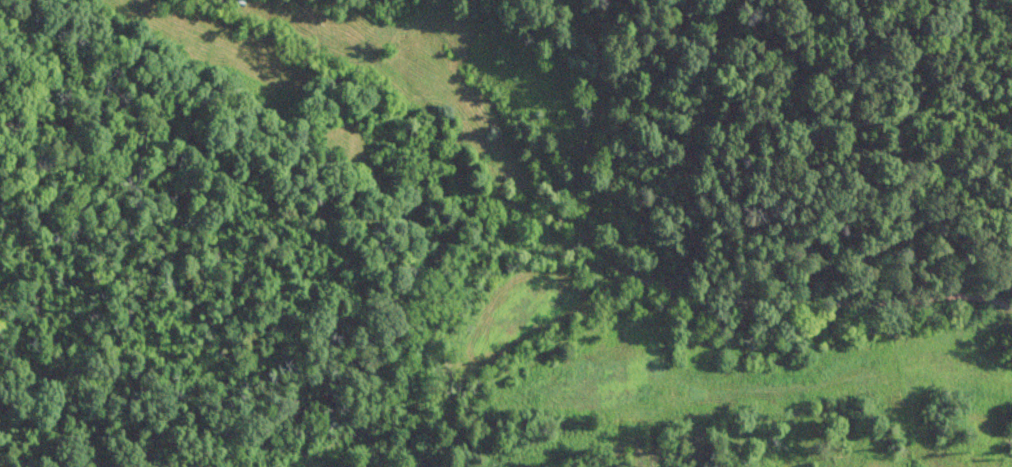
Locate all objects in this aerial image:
road: (831, 308)
road: (644, 355)

